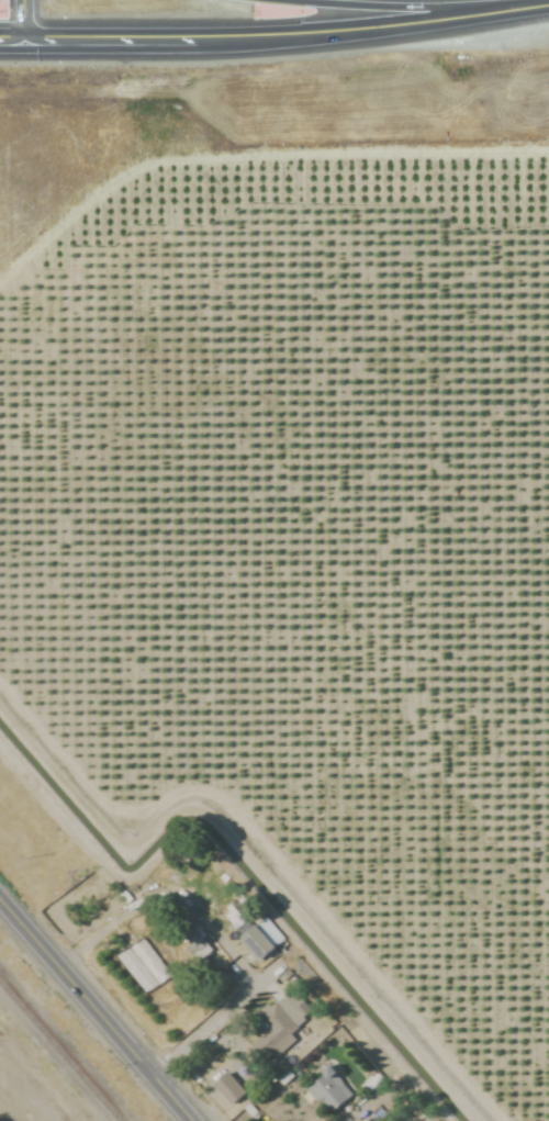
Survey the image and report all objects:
crop: (301, 1)
road: (405, 5)
road: (18, 20)
road: (274, 35)
crop: (292, 509)
road: (167, 892)
building: (253, 942)
building: (194, 945)
road: (91, 1012)
road: (225, 1012)
building: (276, 1023)
railway: (58, 1053)
building: (325, 1088)
building: (225, 1089)
road: (372, 1108)
crop: (1, 1119)

